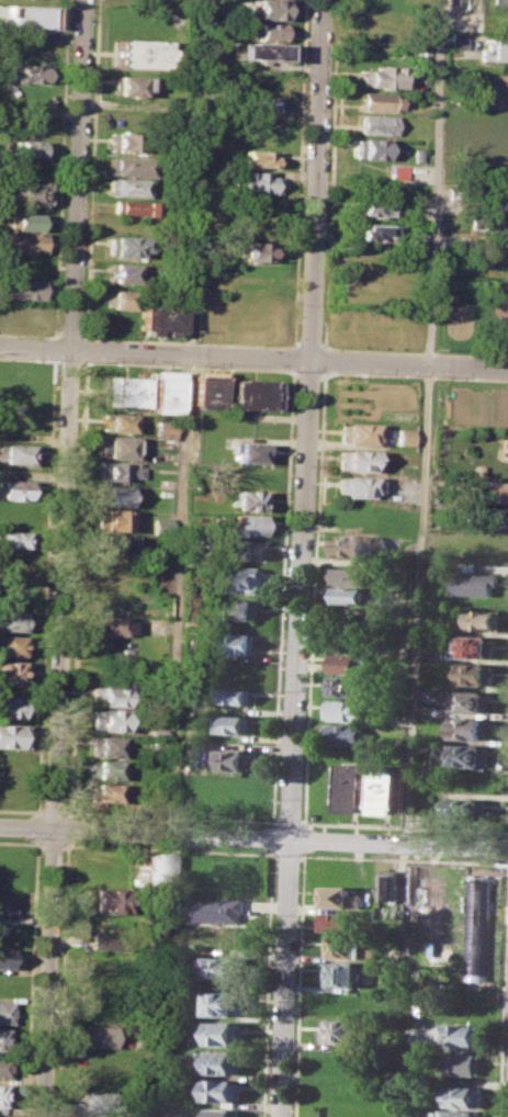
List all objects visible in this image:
street lamp: (93, 0)
building: (272, 10)
building: (30, 16)
building: (272, 31)
building: (456, 41)
building: (494, 49)
building: (258, 50)
building: (138, 53)
building: (29, 74)
building: (382, 76)
building: (263, 79)
building: (131, 86)
street lamp: (306, 90)
street lamp: (90, 97)
building: (379, 100)
building: (263, 102)
building: (374, 124)
building: (128, 142)
building: (368, 147)
building: (30, 148)
building: (259, 159)
building: (131, 165)
building: (394, 171)
building: (256, 182)
road: (433, 182)
building: (127, 187)
building: (23, 191)
road: (58, 193)
building: (494, 198)
building: (133, 206)
building: (366, 207)
street lamp: (84, 212)
building: (25, 221)
building: (492, 222)
building: (370, 230)
building: (21, 241)
building: (125, 245)
building: (255, 251)
road: (325, 264)
building: (122, 272)
building: (20, 289)
building: (120, 298)
street lamp: (298, 303)
building: (159, 318)
road: (192, 341)
road: (63, 342)
road: (80, 356)
road: (213, 356)
street lamp: (38, 358)
street lamp: (88, 360)
street lamp: (193, 364)
road: (466, 366)
street lamp: (287, 373)
street lamp: (404, 373)
building: (205, 388)
building: (122, 392)
building: (165, 392)
building: (252, 394)
road: (181, 417)
building: (116, 421)
building: (249, 427)
building: (165, 428)
building: (355, 432)
building: (404, 437)
building: (115, 448)
building: (16, 452)
building: (249, 452)
building: (355, 459)
building: (118, 471)
building: (353, 485)
building: (16, 488)
building: (486, 490)
building: (113, 494)
building: (247, 499)
building: (484, 517)
building: (114, 520)
building: (247, 523)
building: (161, 524)
building: (14, 539)
building: (481, 543)
building: (115, 544)
building: (352, 545)
building: (247, 548)
road: (65, 558)
road: (301, 558)
building: (352, 575)
road: (44, 577)
building: (238, 578)
building: (475, 583)
building: (349, 596)
road: (416, 605)
road: (312, 606)
building: (242, 610)
building: (484, 619)
building: (12, 621)
building: (112, 624)
building: (239, 642)
building: (12, 644)
building: (475, 645)
building: (345, 662)
building: (12, 672)
building: (476, 674)
building: (343, 685)
building: (109, 696)
building: (238, 696)
building: (472, 702)
building: (11, 706)
building: (347, 710)
building: (106, 720)
building: (236, 723)
building: (473, 727)
building: (154, 732)
building: (347, 734)
building: (12, 736)
building: (104, 746)
building: (471, 754)
building: (235, 759)
building: (104, 769)
building: (358, 788)
building: (391, 791)
building: (105, 792)
building: (469, 801)
road: (36, 810)
road: (52, 810)
road: (66, 811)
road: (273, 816)
road: (275, 821)
road: (289, 821)
road: (305, 822)
road: (36, 826)
road: (67, 827)
road: (203, 835)
road: (305, 838)
road: (20, 842)
road: (52, 843)
road: (458, 845)
road: (167, 847)
road: (287, 854)
road: (403, 858)
building: (149, 868)
building: (390, 884)
building: (340, 898)
building: (104, 899)
building: (178, 904)
building: (8, 910)
building: (218, 910)
building: (335, 921)
building: (478, 927)
building: (102, 940)
building: (342, 946)
building: (5, 958)
building: (222, 967)
building: (342, 973)
road: (162, 975)
road: (30, 978)
road: (60, 978)
road: (402, 980)
road: (267, 983)
road: (298, 983)
building: (224, 1003)
road: (504, 1005)
building: (5, 1012)
building: (341, 1030)
building: (224, 1034)
building: (463, 1034)
building: (95, 1036)
building: (3, 1039)
building: (223, 1061)
building: (464, 1063)
building: (3, 1067)
building: (221, 1090)
building: (2, 1095)
building: (464, 1096)
building: (97, 1098)
building: (222, 1113)
building: (456, 1113)

